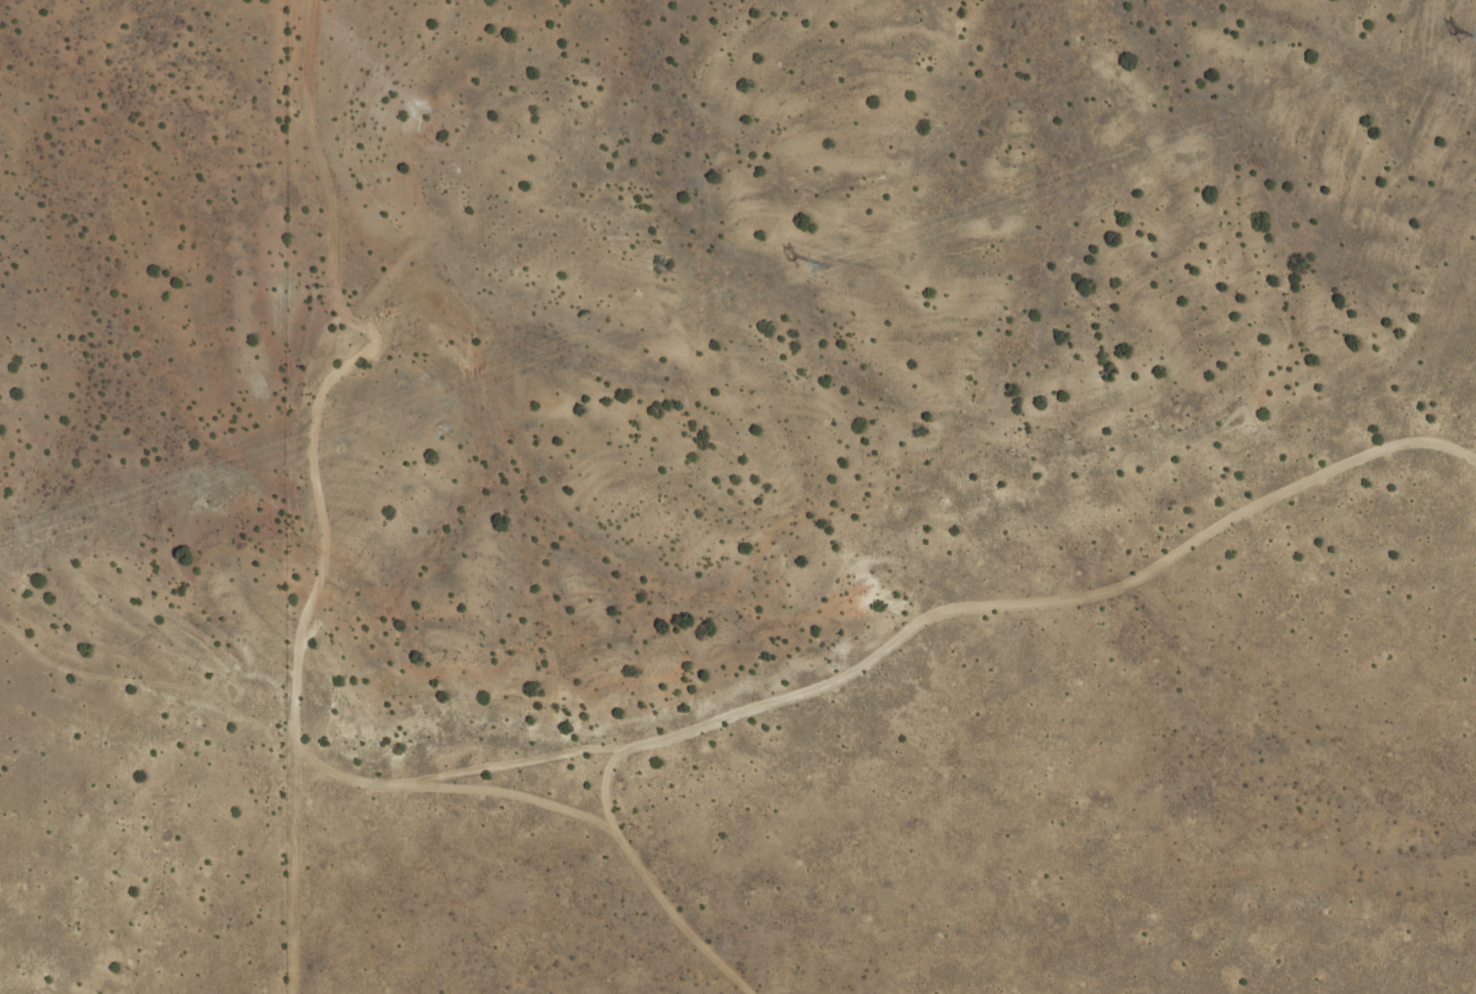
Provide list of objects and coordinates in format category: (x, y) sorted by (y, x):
power tower: (823, 265)
road: (301, 491)

